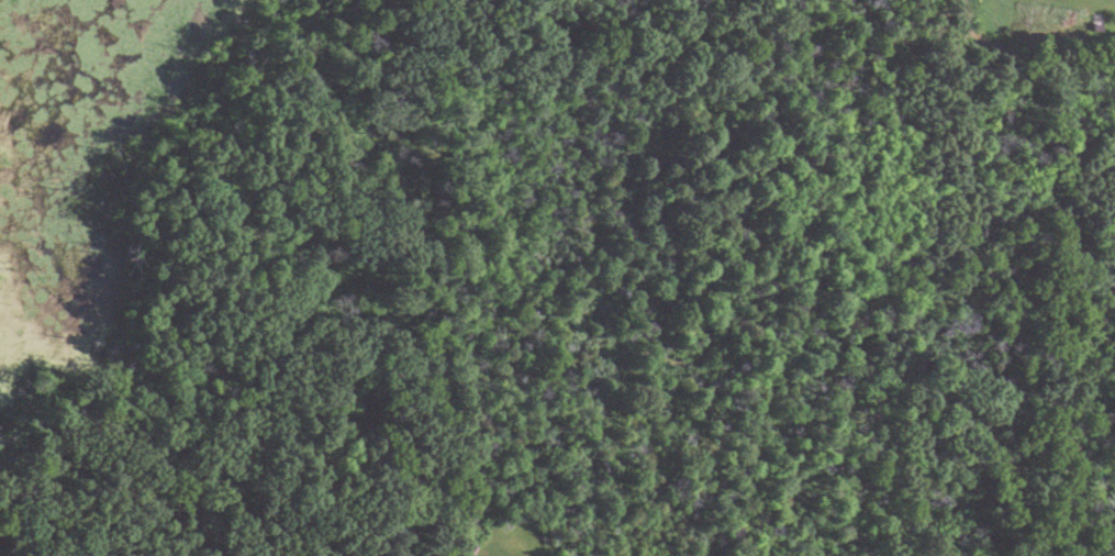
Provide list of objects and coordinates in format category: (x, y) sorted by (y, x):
road: (376, 459)

